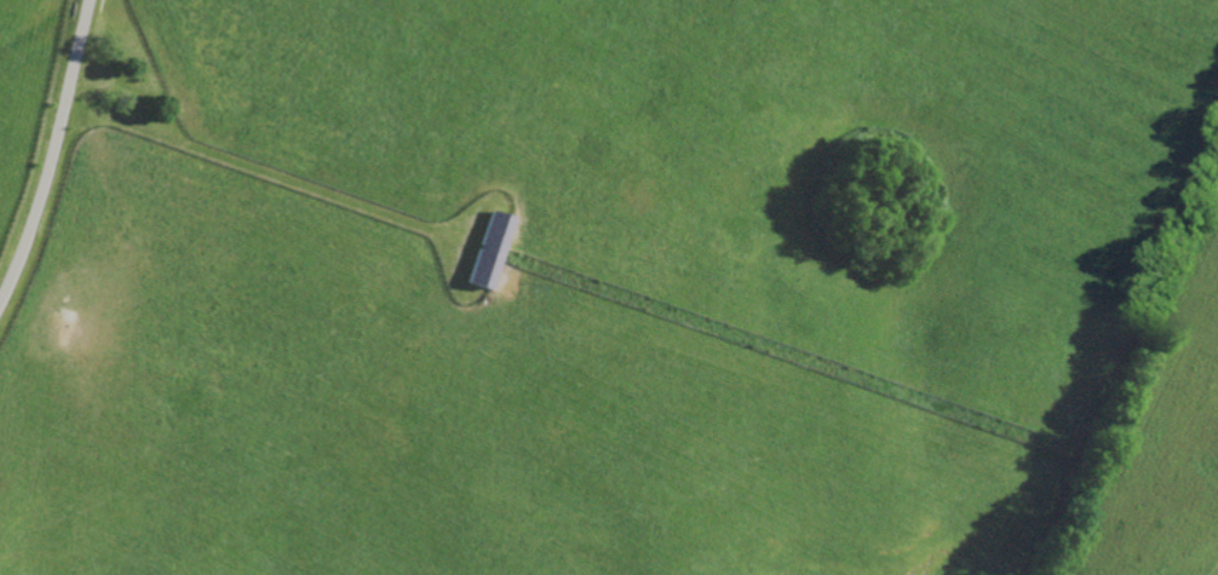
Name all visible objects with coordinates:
road: (52, 151)
building: (490, 249)
building: (40, 298)

